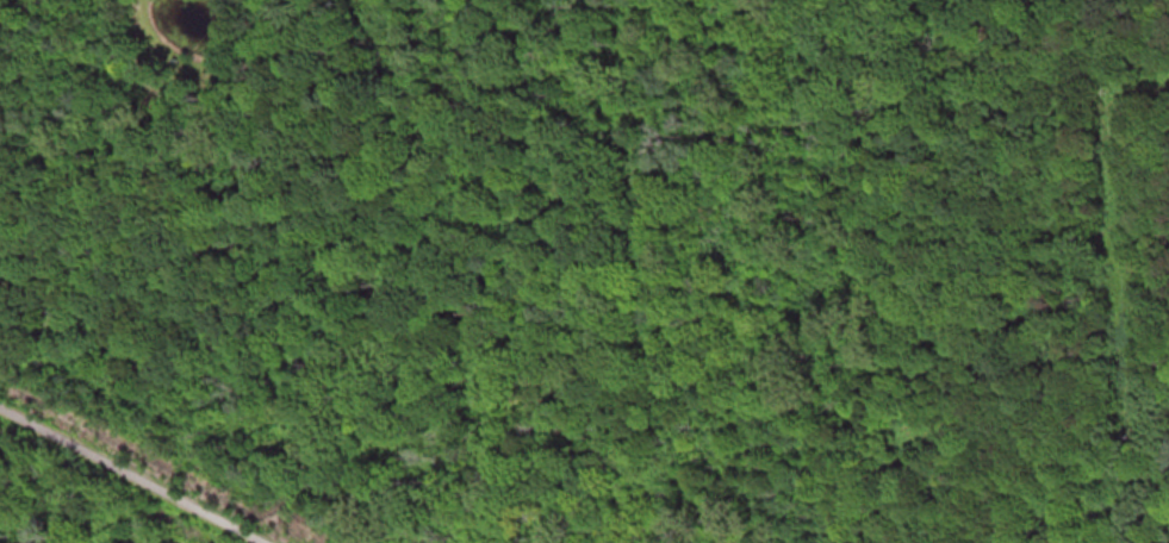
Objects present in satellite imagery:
road: (132, 474)

